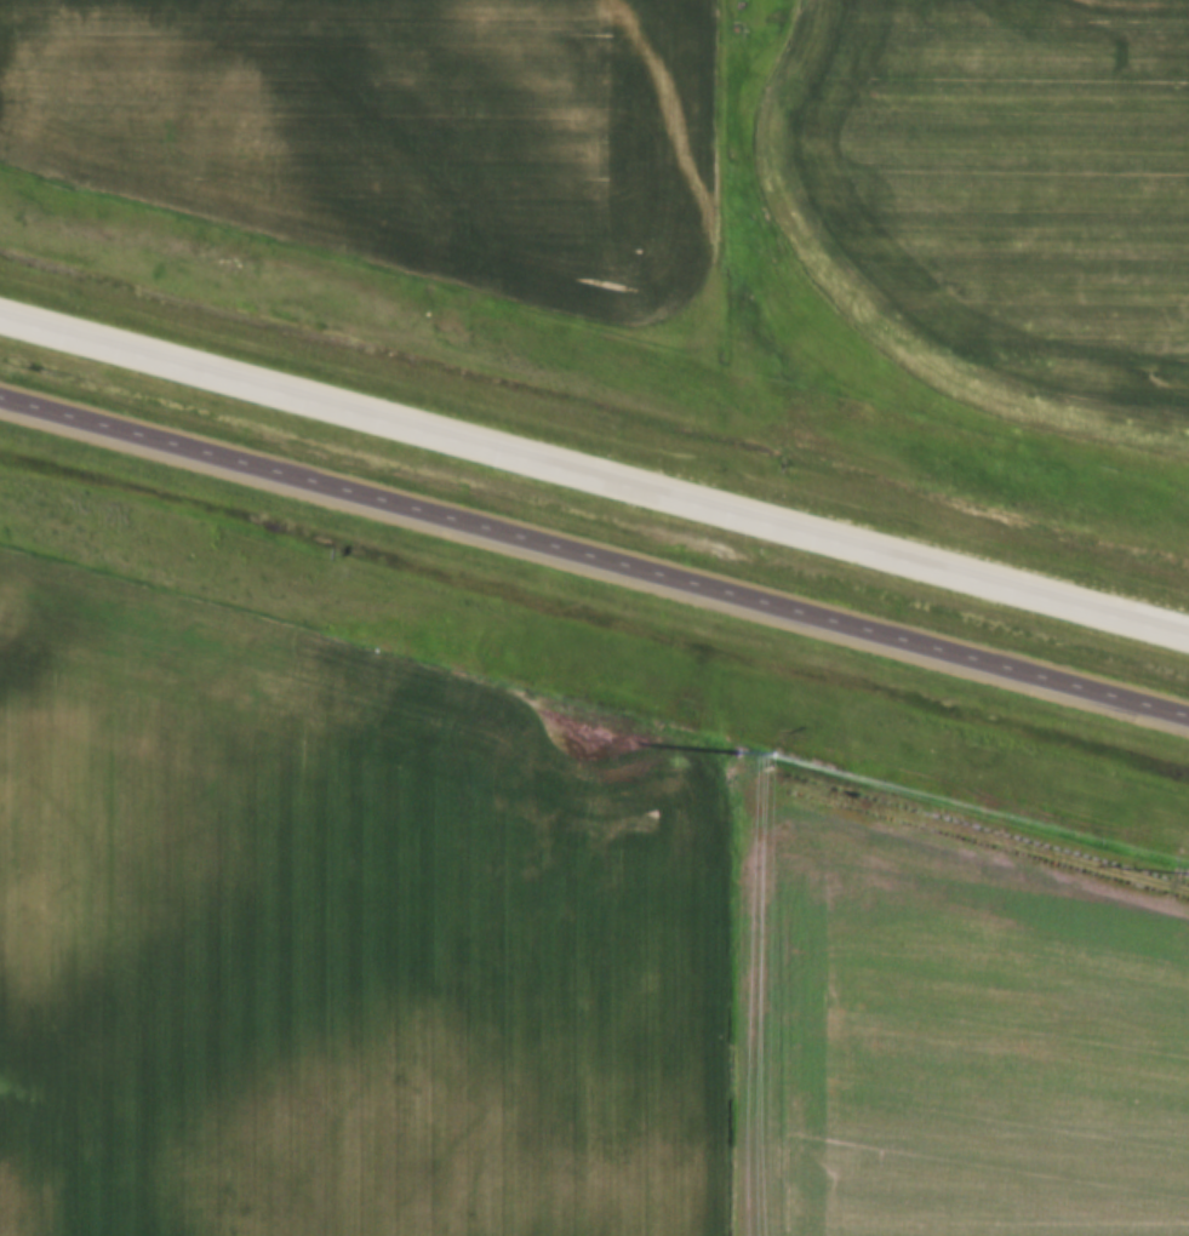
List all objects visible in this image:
building: (375, 476)
road: (594, 480)
road: (594, 561)

